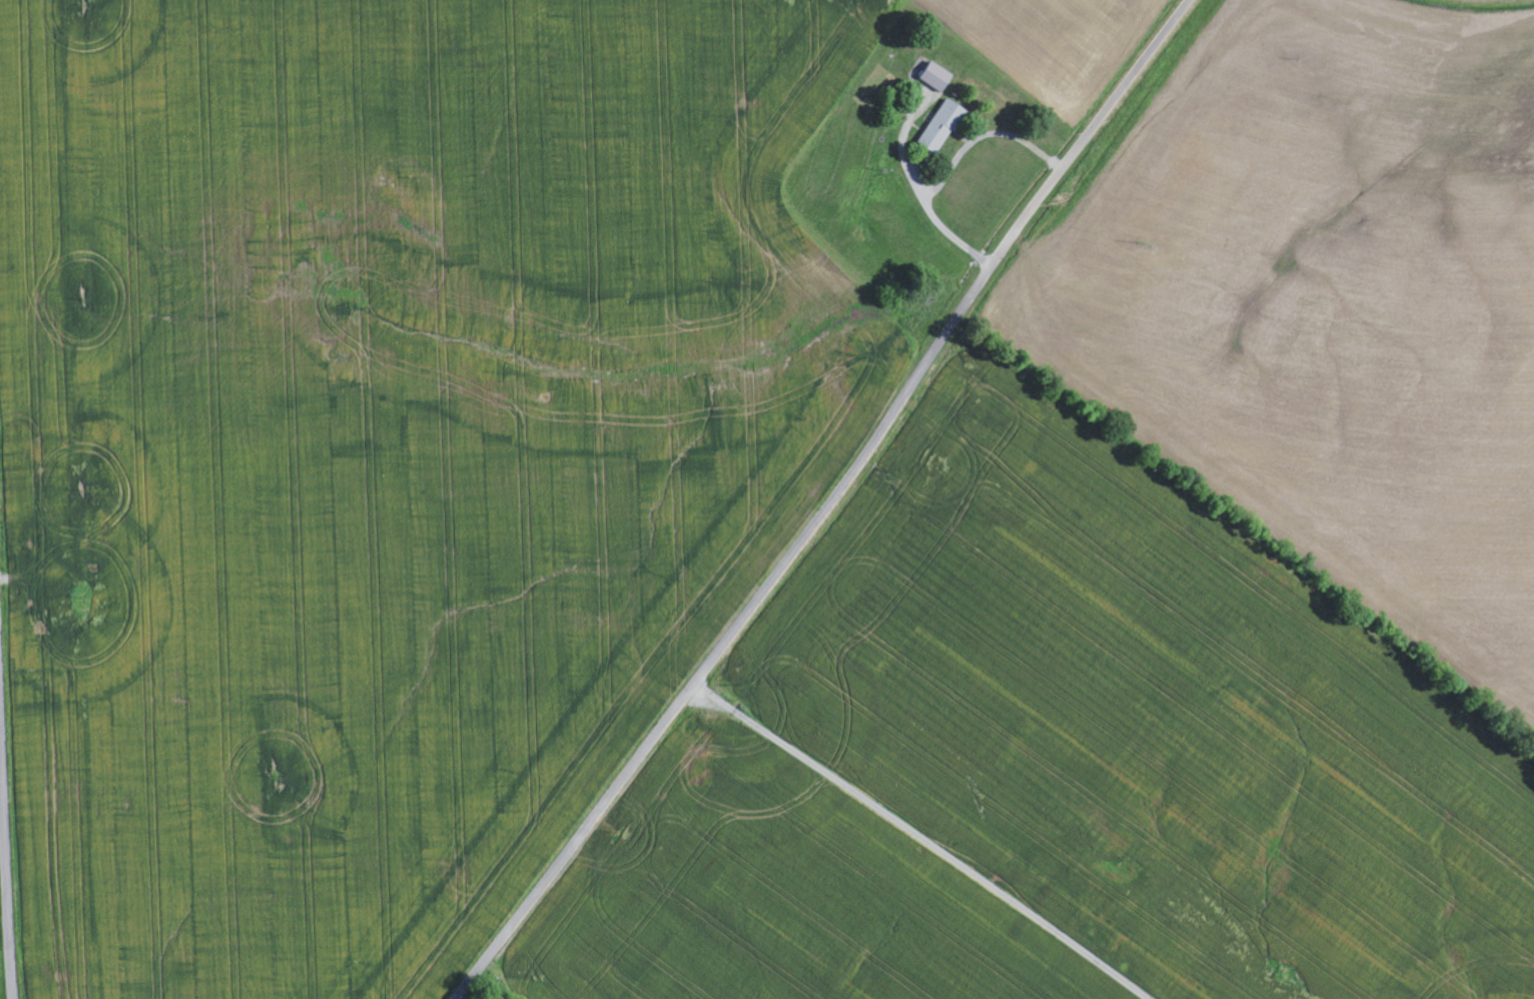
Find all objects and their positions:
building: (933, 78)
building: (939, 128)
road: (828, 503)
road: (921, 839)
road: (7, 842)

